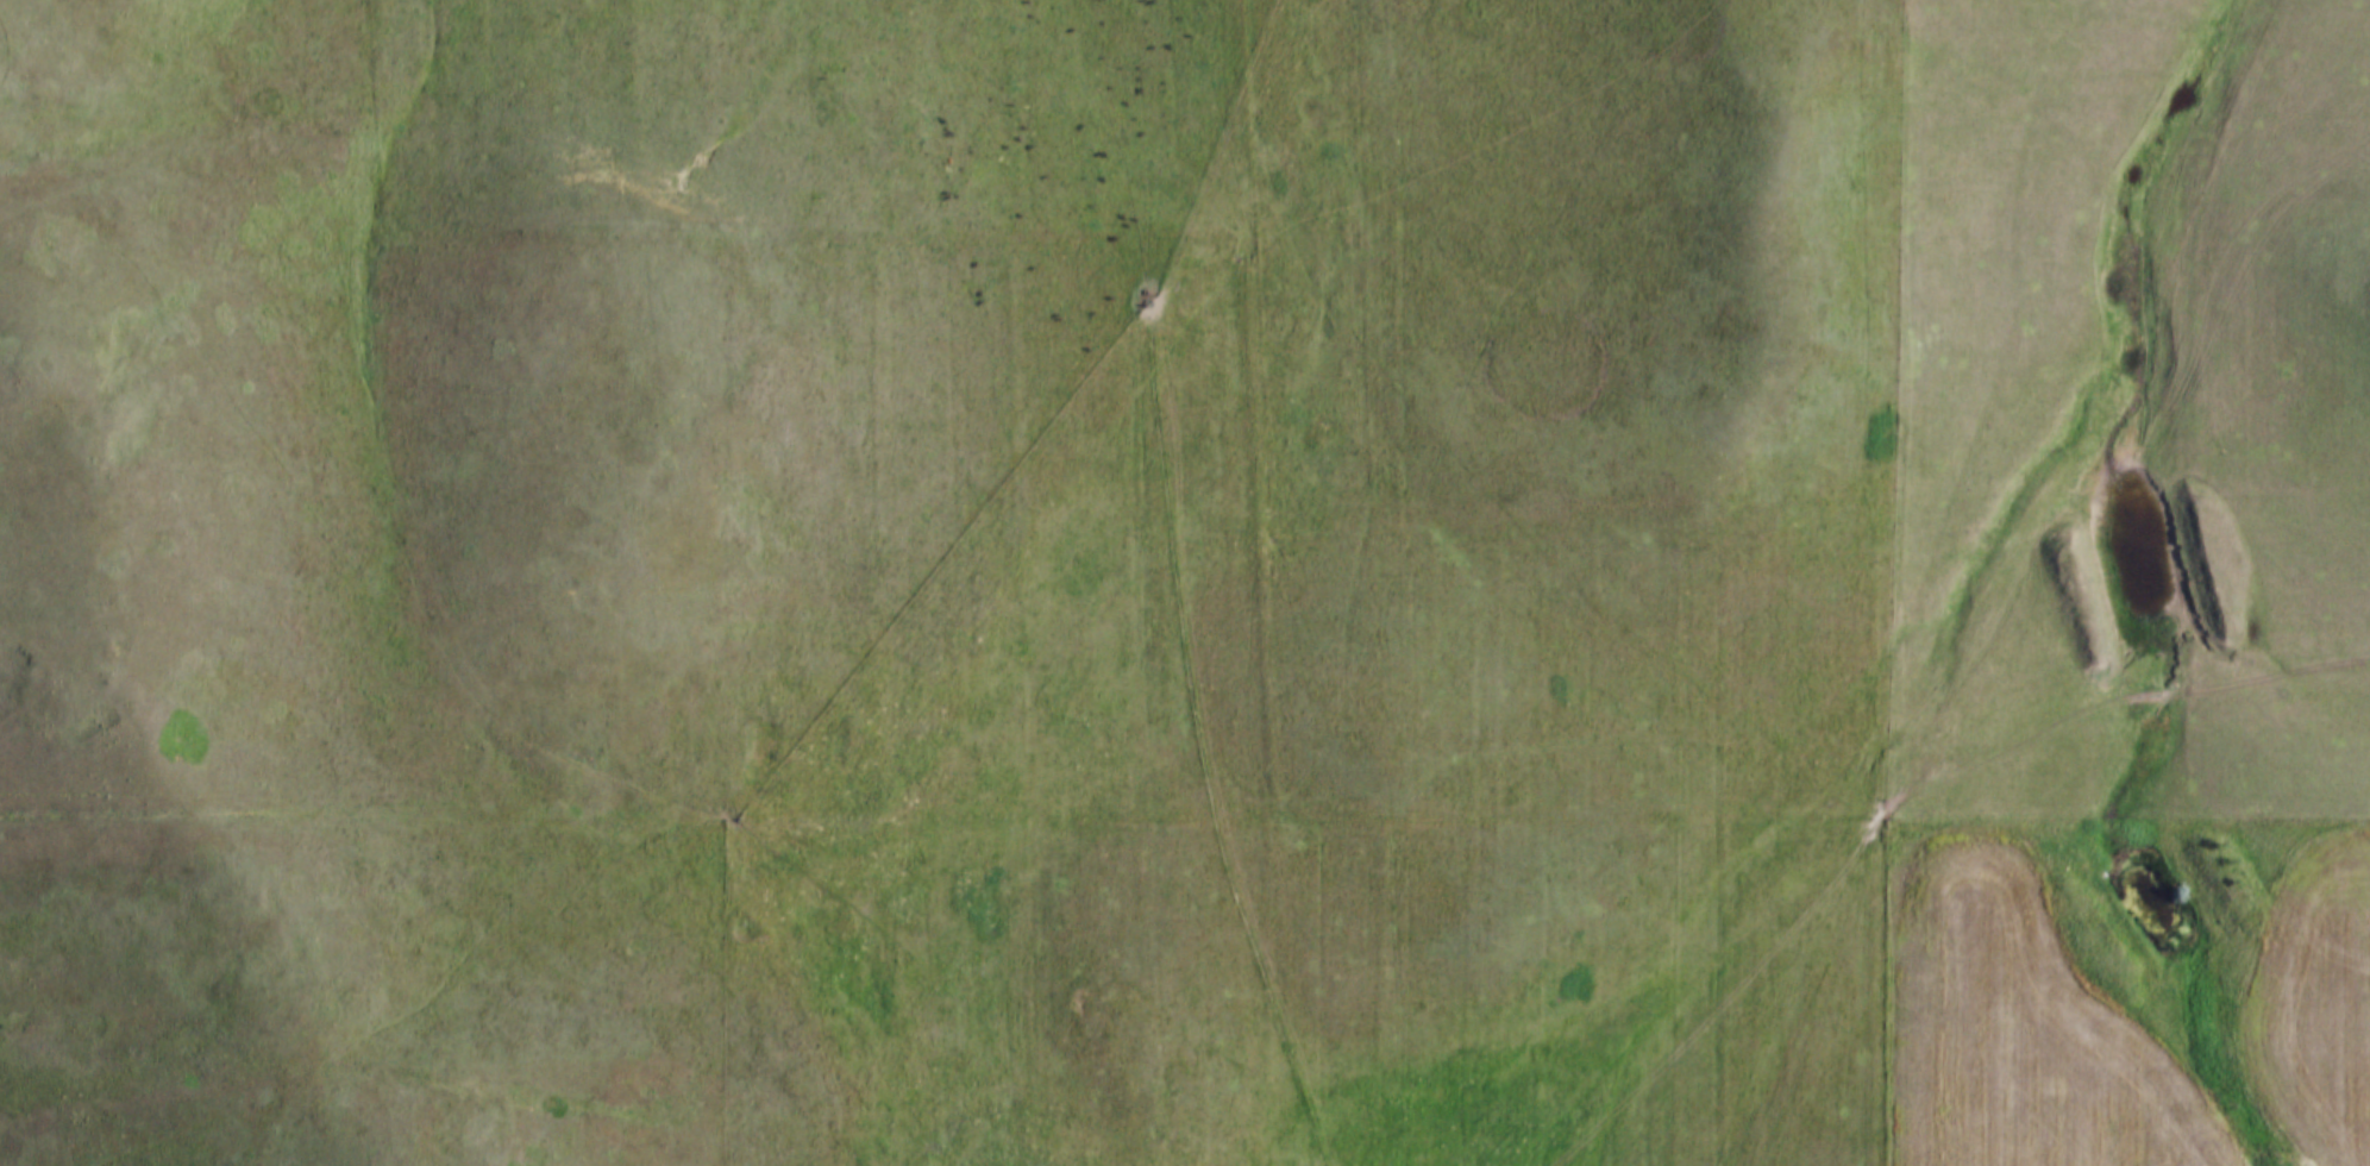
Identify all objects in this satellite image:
road: (2237, 300)

